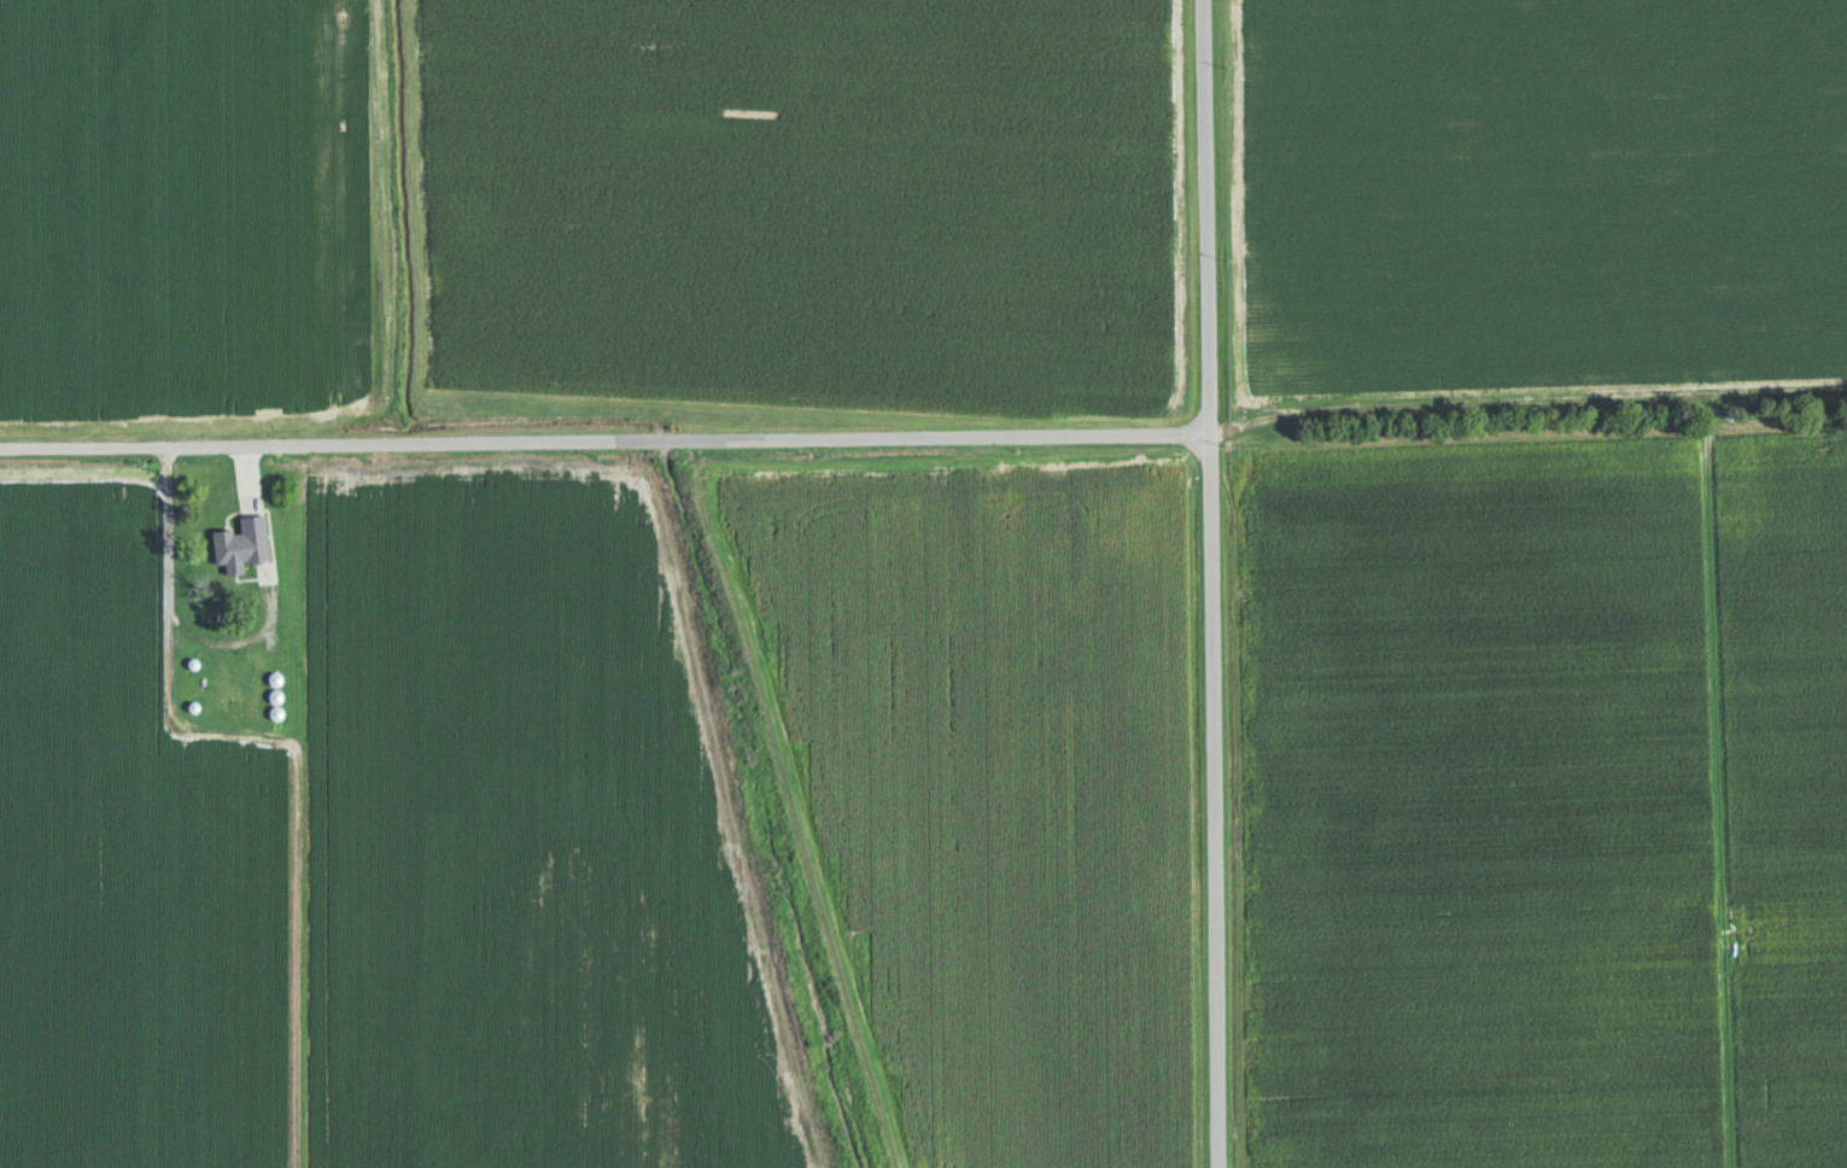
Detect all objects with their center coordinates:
road: (601, 439)
road: (267, 518)
building: (247, 545)
road: (1204, 584)

